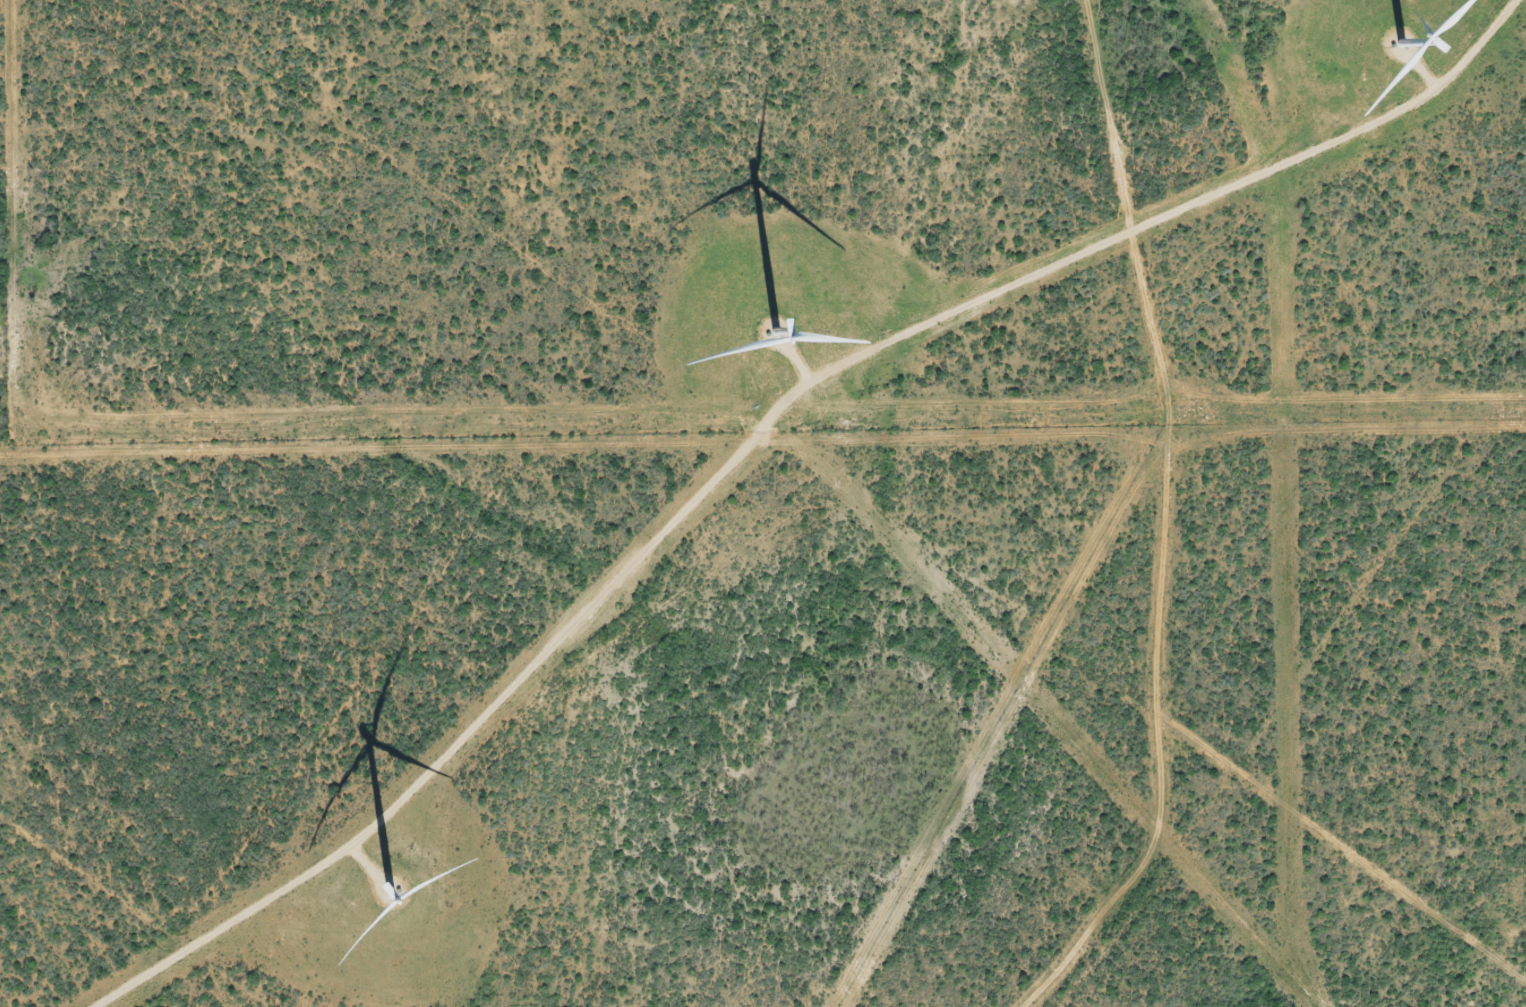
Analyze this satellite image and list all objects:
wind turbine: (1385, 50)
wind turbine: (773, 342)
road: (1156, 530)
wind turbine: (376, 905)

